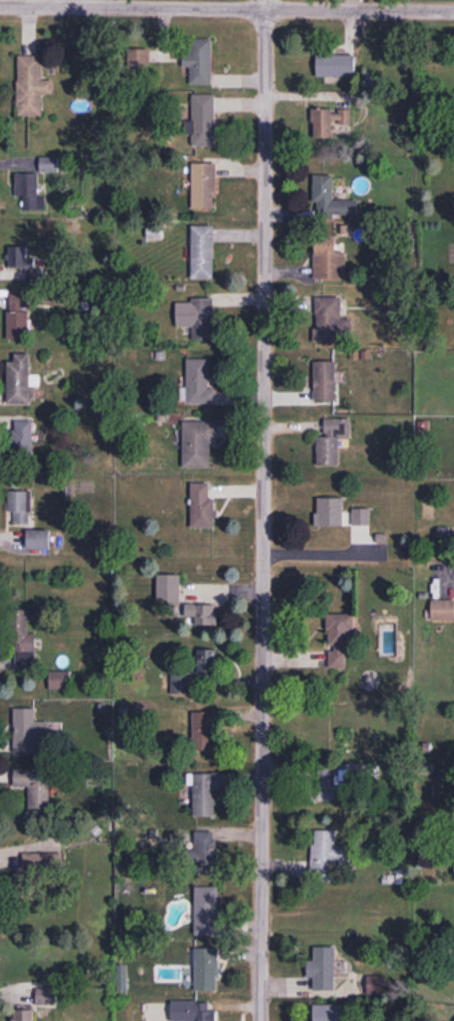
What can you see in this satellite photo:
road: (227, 8)
building: (139, 61)
building: (200, 63)
building: (336, 67)
building: (32, 88)
building: (203, 122)
building: (329, 123)
building: (50, 165)
building: (204, 187)
building: (28, 191)
building: (331, 200)
building: (203, 254)
building: (21, 262)
building: (329, 262)
building: (19, 318)
building: (197, 319)
building: (328, 321)
building: (19, 381)
building: (325, 382)
building: (200, 384)
building: (23, 442)
building: (333, 443)
building: (199, 445)
building: (203, 509)
building: (21, 510)
road: (263, 510)
building: (340, 515)
building: (39, 542)
building: (170, 592)
building: (443, 611)
building: (203, 616)
building: (339, 640)
building: (24, 644)
building: (208, 664)
building: (61, 682)
building: (182, 685)
building: (30, 733)
building: (205, 734)
building: (339, 780)
building: (35, 788)
building: (206, 797)
building: (206, 854)
building: (327, 855)
building: (41, 869)
building: (207, 913)
building: (207, 971)
building: (323, 971)
building: (377, 987)
building: (47, 999)
building: (194, 1012)
building: (329, 1014)
building: (24, 1016)

